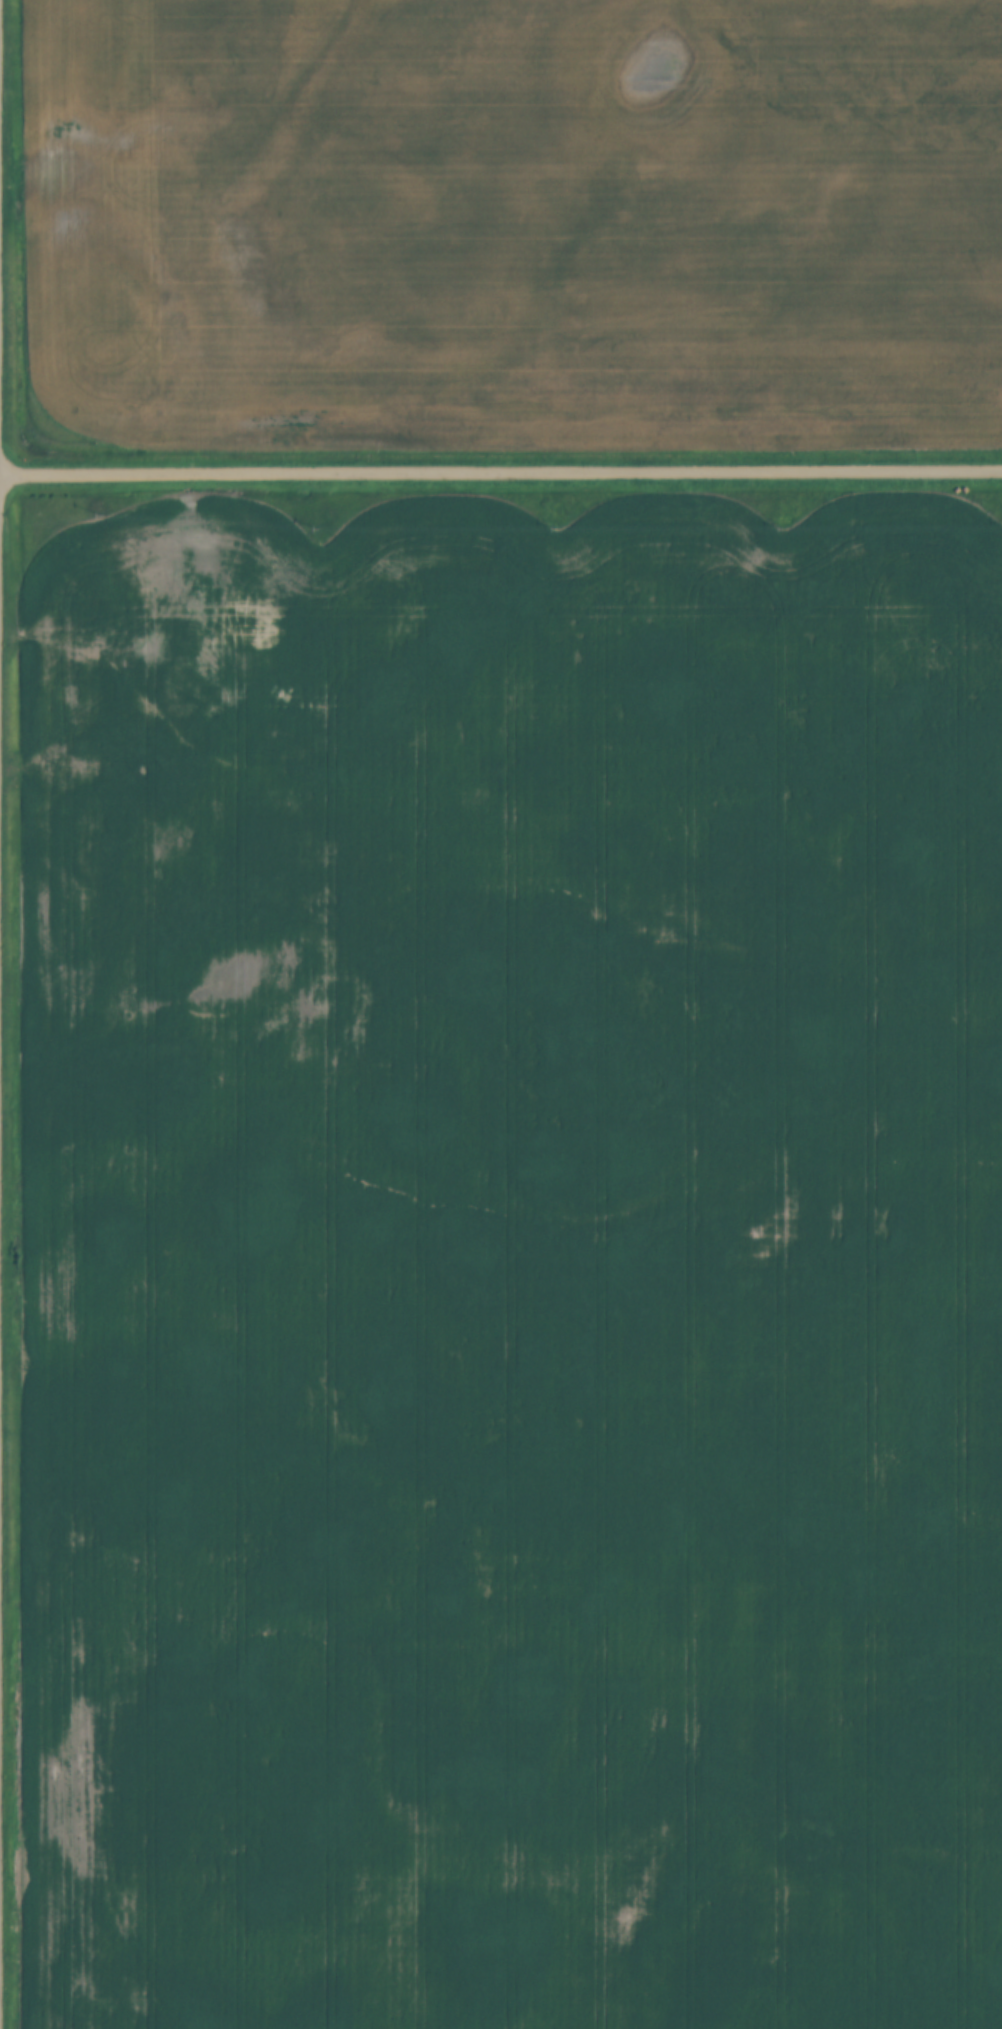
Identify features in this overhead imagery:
road: (501, 474)

